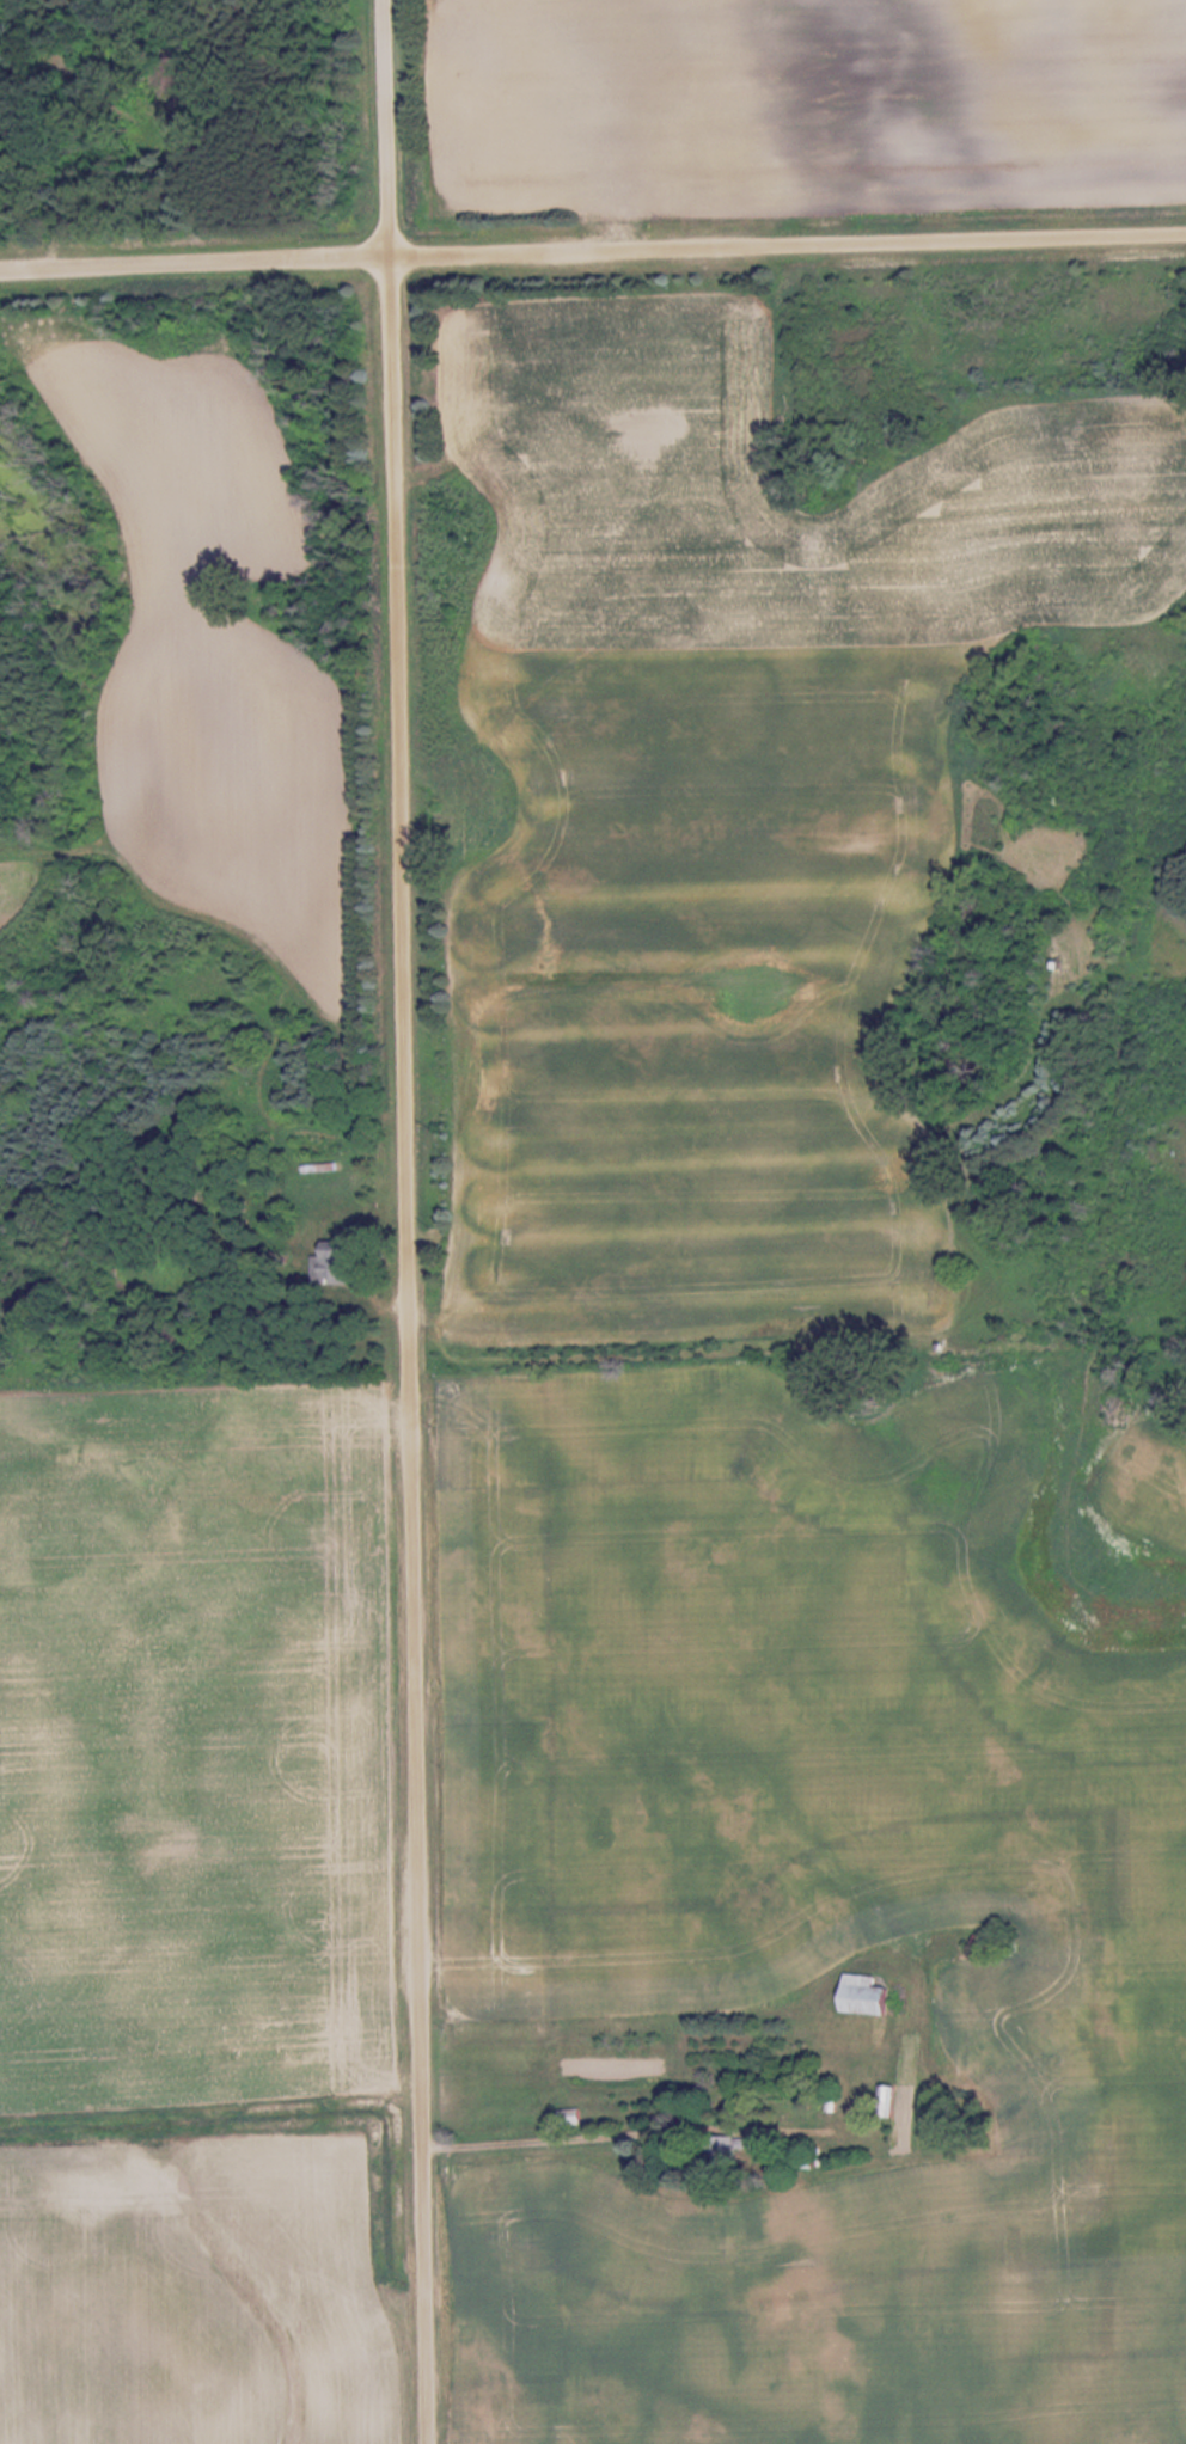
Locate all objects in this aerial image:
road: (592, 250)
road: (402, 1221)
building: (336, 1266)
building: (869, 1997)
building: (571, 2115)
building: (709, 2162)

